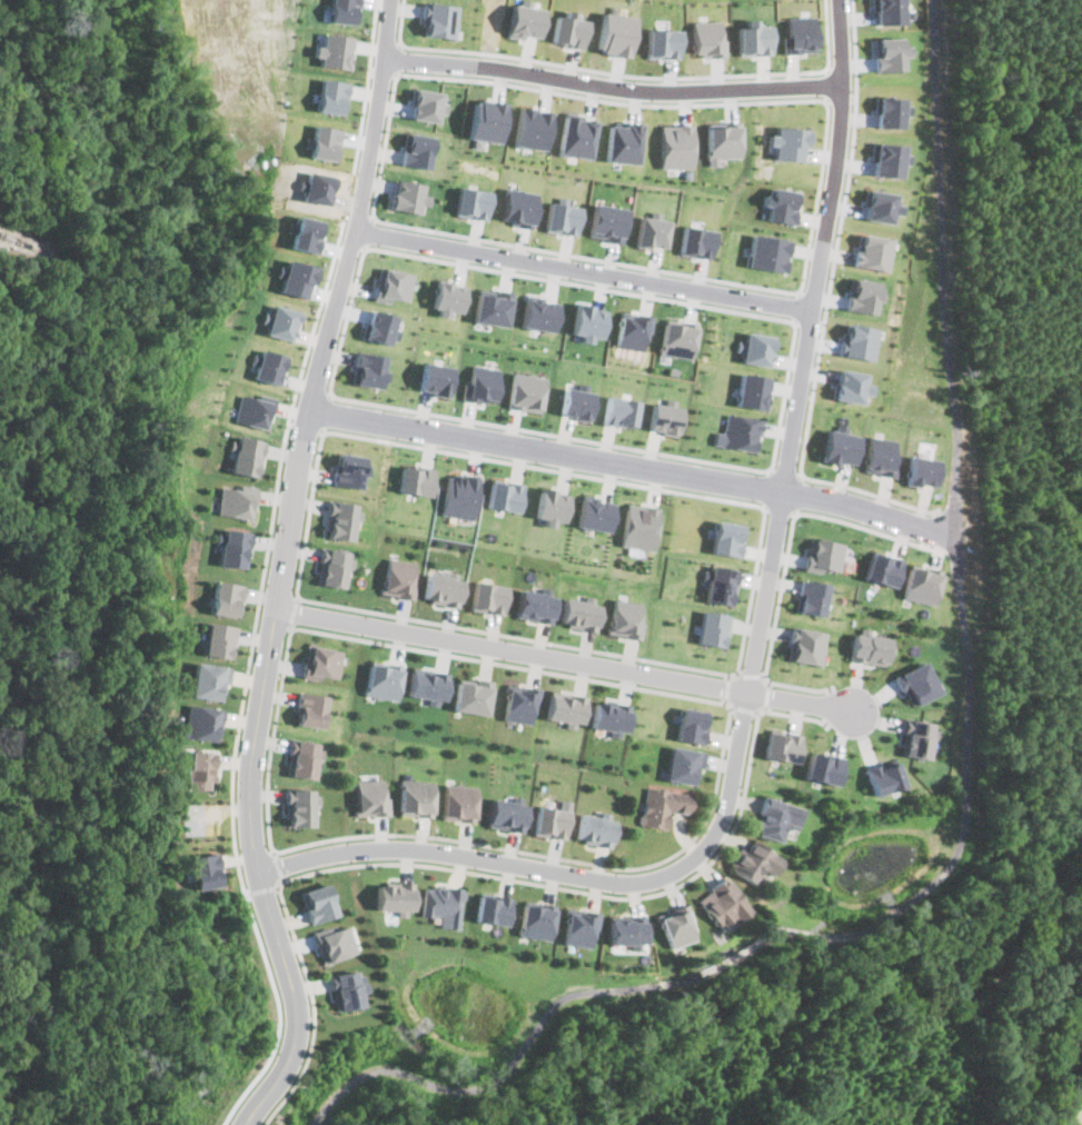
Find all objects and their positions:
building: (343, 11)
building: (889, 11)
building: (440, 20)
building: (525, 21)
building: (569, 29)
building: (615, 33)
building: (798, 34)
building: (706, 38)
building: (753, 38)
road: (400, 42)
building: (663, 42)
building: (332, 50)
building: (889, 52)
road: (397, 58)
road: (368, 60)
road: (825, 68)
road: (381, 72)
road: (625, 74)
road: (827, 83)
road: (612, 87)
building: (330, 96)
road: (841, 98)
road: (826, 100)
building: (427, 104)
building: (890, 111)
building: (486, 121)
building: (533, 128)
building: (578, 136)
building: (724, 141)
building: (625, 142)
building: (787, 142)
road: (385, 145)
building: (677, 146)
building: (418, 150)
building: (887, 159)
road: (851, 162)
building: (407, 196)
road: (818, 198)
building: (473, 202)
building: (782, 205)
building: (882, 206)
road: (359, 207)
building: (520, 207)
building: (563, 218)
building: (609, 222)
road: (366, 231)
building: (653, 231)
building: (697, 241)
building: (874, 251)
building: (768, 252)
road: (584, 269)
building: (394, 285)
road: (801, 291)
building: (864, 295)
building: (448, 297)
building: (495, 306)
road: (800, 307)
building: (540, 312)
road: (346, 320)
building: (279, 321)
building: (588, 321)
road: (795, 321)
road: (810, 322)
building: (380, 326)
building: (633, 329)
building: (678, 338)
building: (860, 341)
building: (755, 348)
building: (267, 366)
building: (369, 369)
building: (436, 378)
building: (482, 384)
building: (851, 385)
building: (754, 390)
building: (526, 391)
road: (784, 398)
building: (576, 402)
building: (619, 410)
building: (255, 411)
road: (325, 412)
building: (665, 416)
road: (305, 426)
road: (324, 431)
building: (738, 432)
building: (840, 447)
building: (246, 455)
building: (881, 455)
road: (636, 468)
building: (348, 470)
road: (800, 470)
building: (922, 470)
road: (784, 471)
building: (415, 480)
road: (765, 487)
road: (798, 494)
building: (458, 495)
building: (504, 495)
building: (235, 501)
building: (550, 505)
road: (778, 508)
building: (596, 514)
building: (339, 519)
building: (641, 526)
building: (727, 538)
building: (230, 547)
building: (823, 555)
road: (787, 556)
building: (331, 567)
building: (883, 568)
building: (398, 577)
building: (717, 584)
building: (921, 585)
building: (443, 586)
road: (277, 596)
building: (487, 596)
road: (259, 597)
building: (812, 597)
building: (222, 598)
building: (535, 605)
road: (291, 610)
building: (578, 614)
building: (624, 618)
building: (712, 628)
road: (745, 629)
building: (216, 639)
building: (807, 645)
building: (871, 648)
road: (756, 657)
building: (305, 659)
building: (322, 661)
road: (567, 661)
road: (751, 676)
building: (206, 679)
building: (383, 679)
building: (917, 683)
building: (426, 684)
road: (729, 688)
building: (470, 696)
road: (770, 697)
building: (516, 704)
building: (563, 708)
building: (309, 709)
road: (746, 709)
building: (608, 717)
building: (199, 723)
building: (692, 725)
building: (915, 738)
road: (272, 739)
building: (784, 745)
building: (302, 758)
building: (684, 765)
road: (722, 767)
building: (823, 767)
building: (199, 768)
road: (250, 775)
building: (882, 776)
building: (369, 797)
building: (414, 797)
building: (456, 802)
building: (663, 805)
building: (299, 806)
building: (504, 814)
building: (777, 818)
building: (549, 819)
building: (593, 829)
building: (755, 860)
road: (278, 867)
building: (204, 869)
road: (485, 874)
road: (260, 890)
building: (393, 897)
building: (316, 902)
building: (723, 903)
building: (440, 904)
building: (490, 908)
building: (535, 920)
building: (676, 925)
building: (578, 927)
building: (626, 930)
building: (334, 942)
building: (347, 988)
road: (277, 1010)

